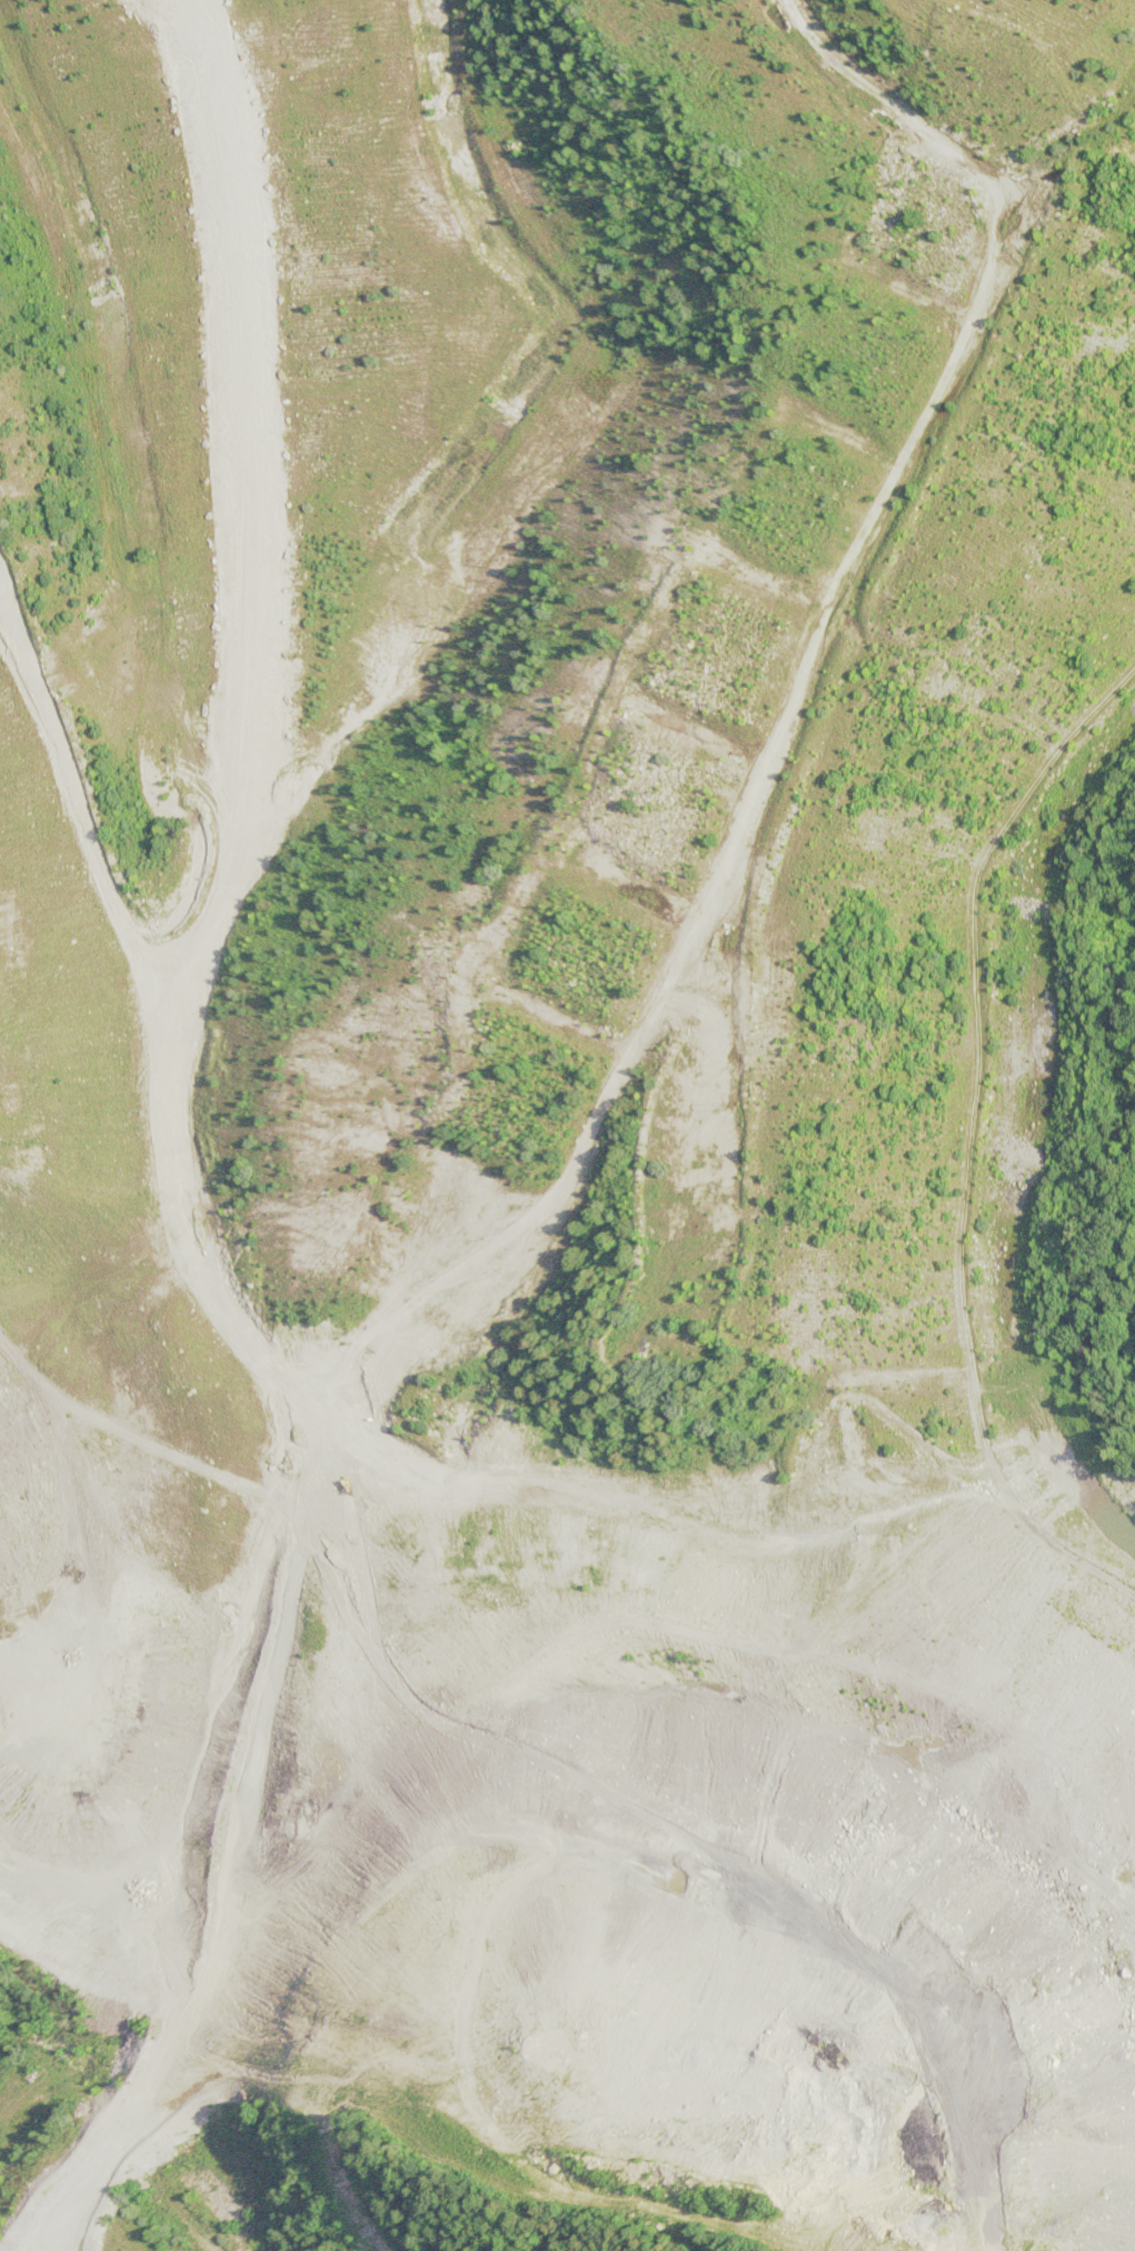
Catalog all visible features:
quarry: (557, 1136)

